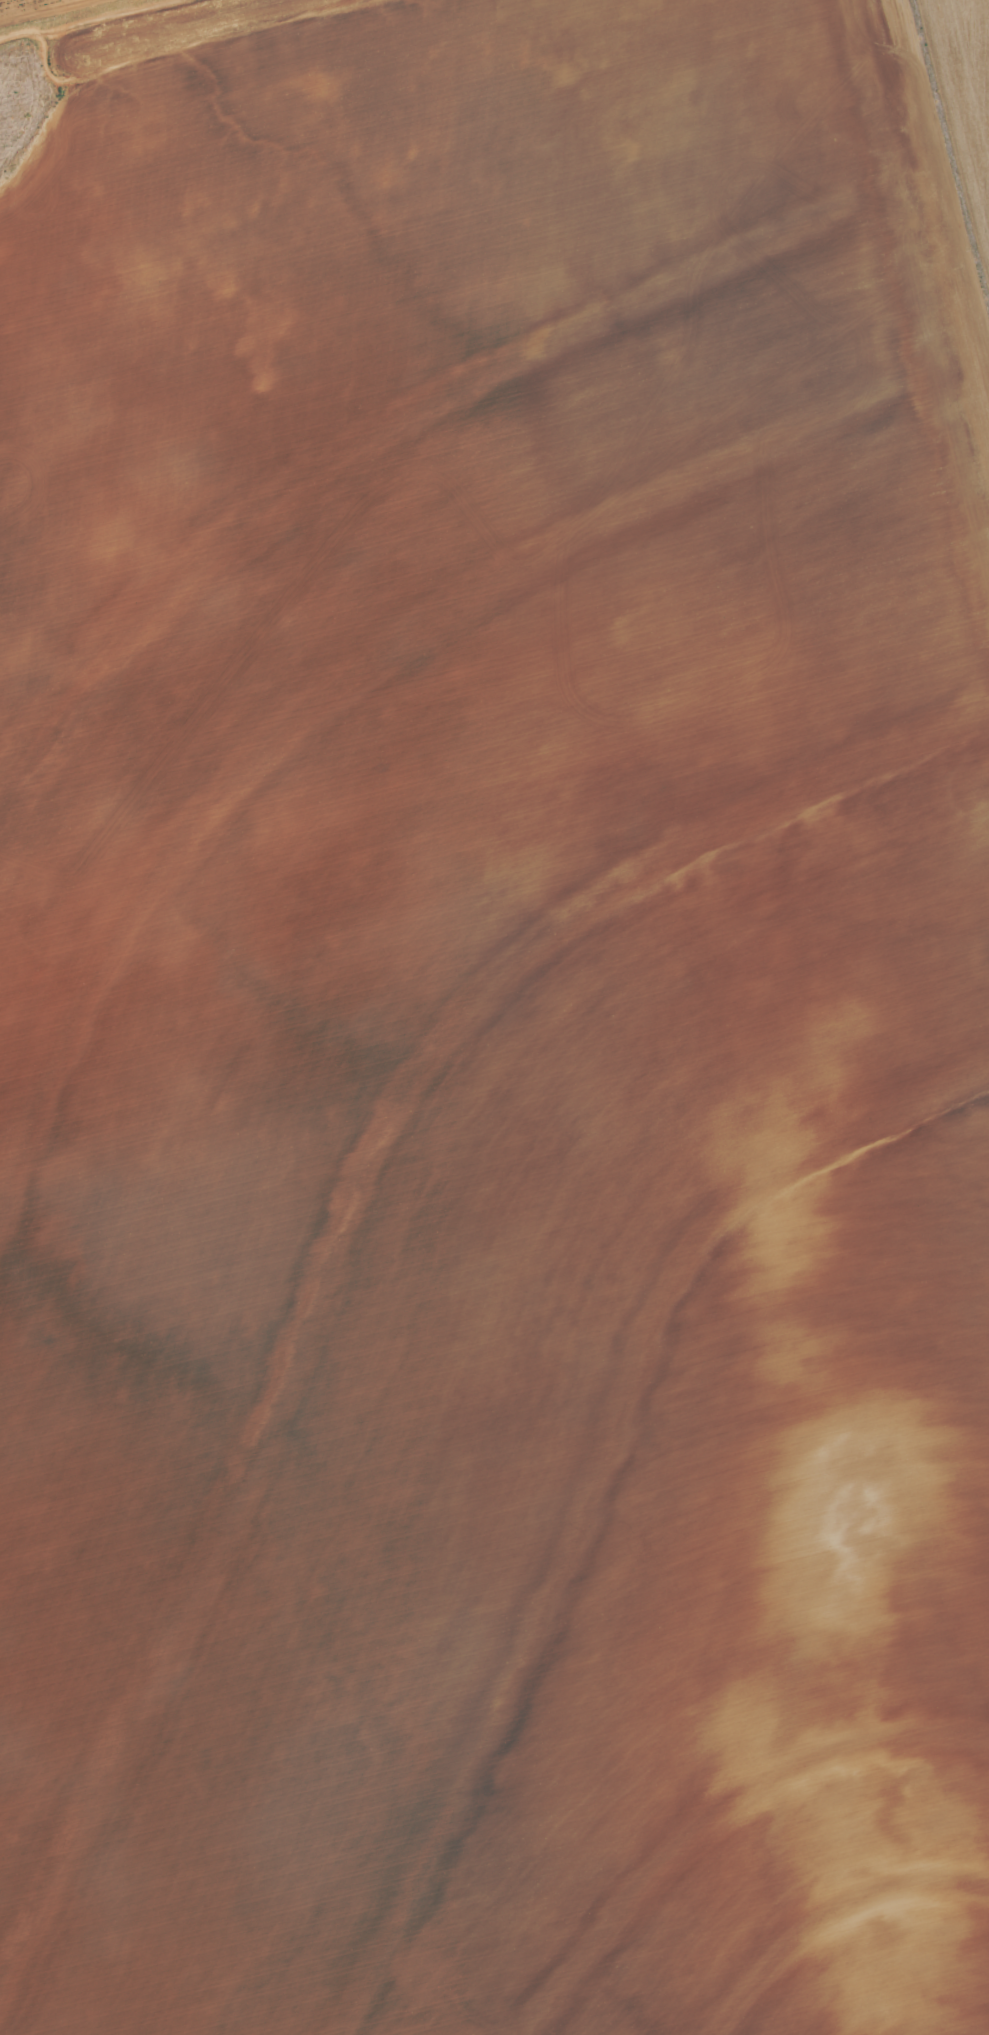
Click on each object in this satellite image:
road: (953, 140)

